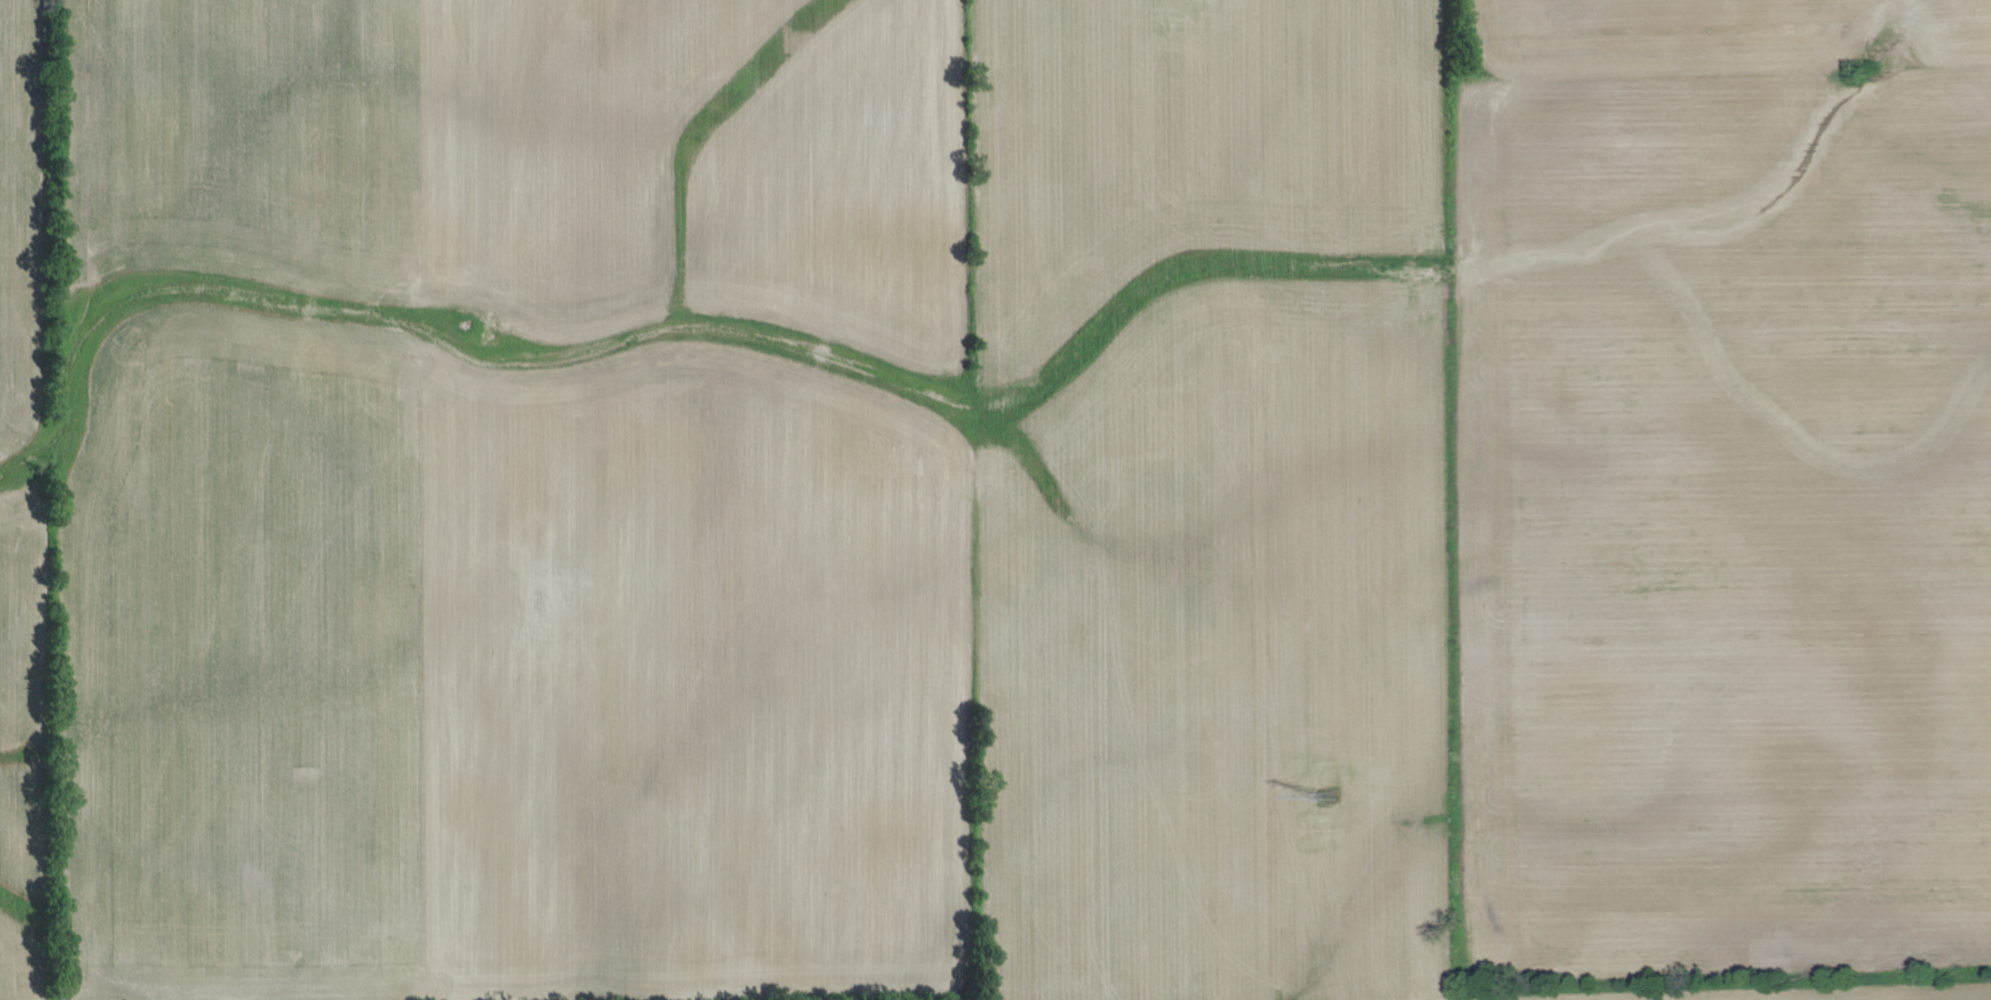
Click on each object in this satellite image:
power tower: (1335, 784)

